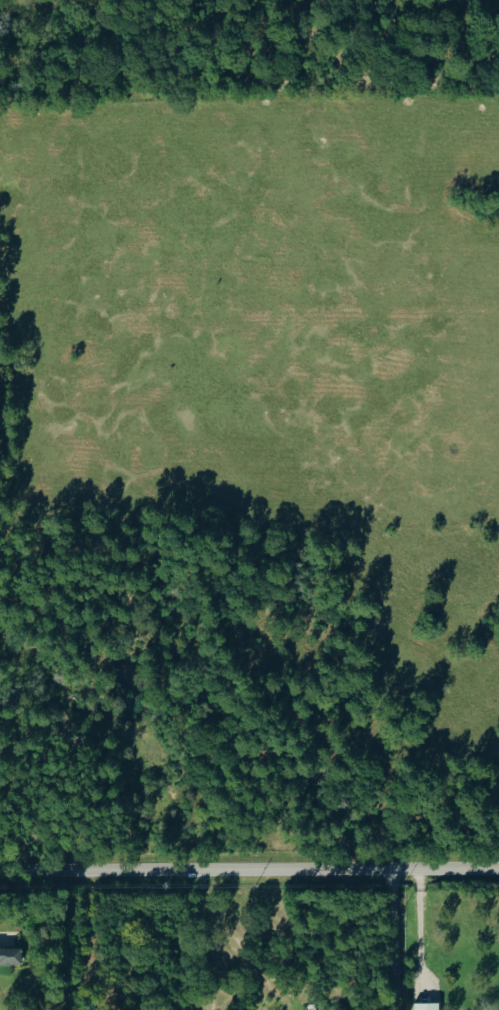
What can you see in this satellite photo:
road: (249, 869)
road: (394, 938)
road: (236, 944)
building: (11, 955)
building: (428, 1006)

